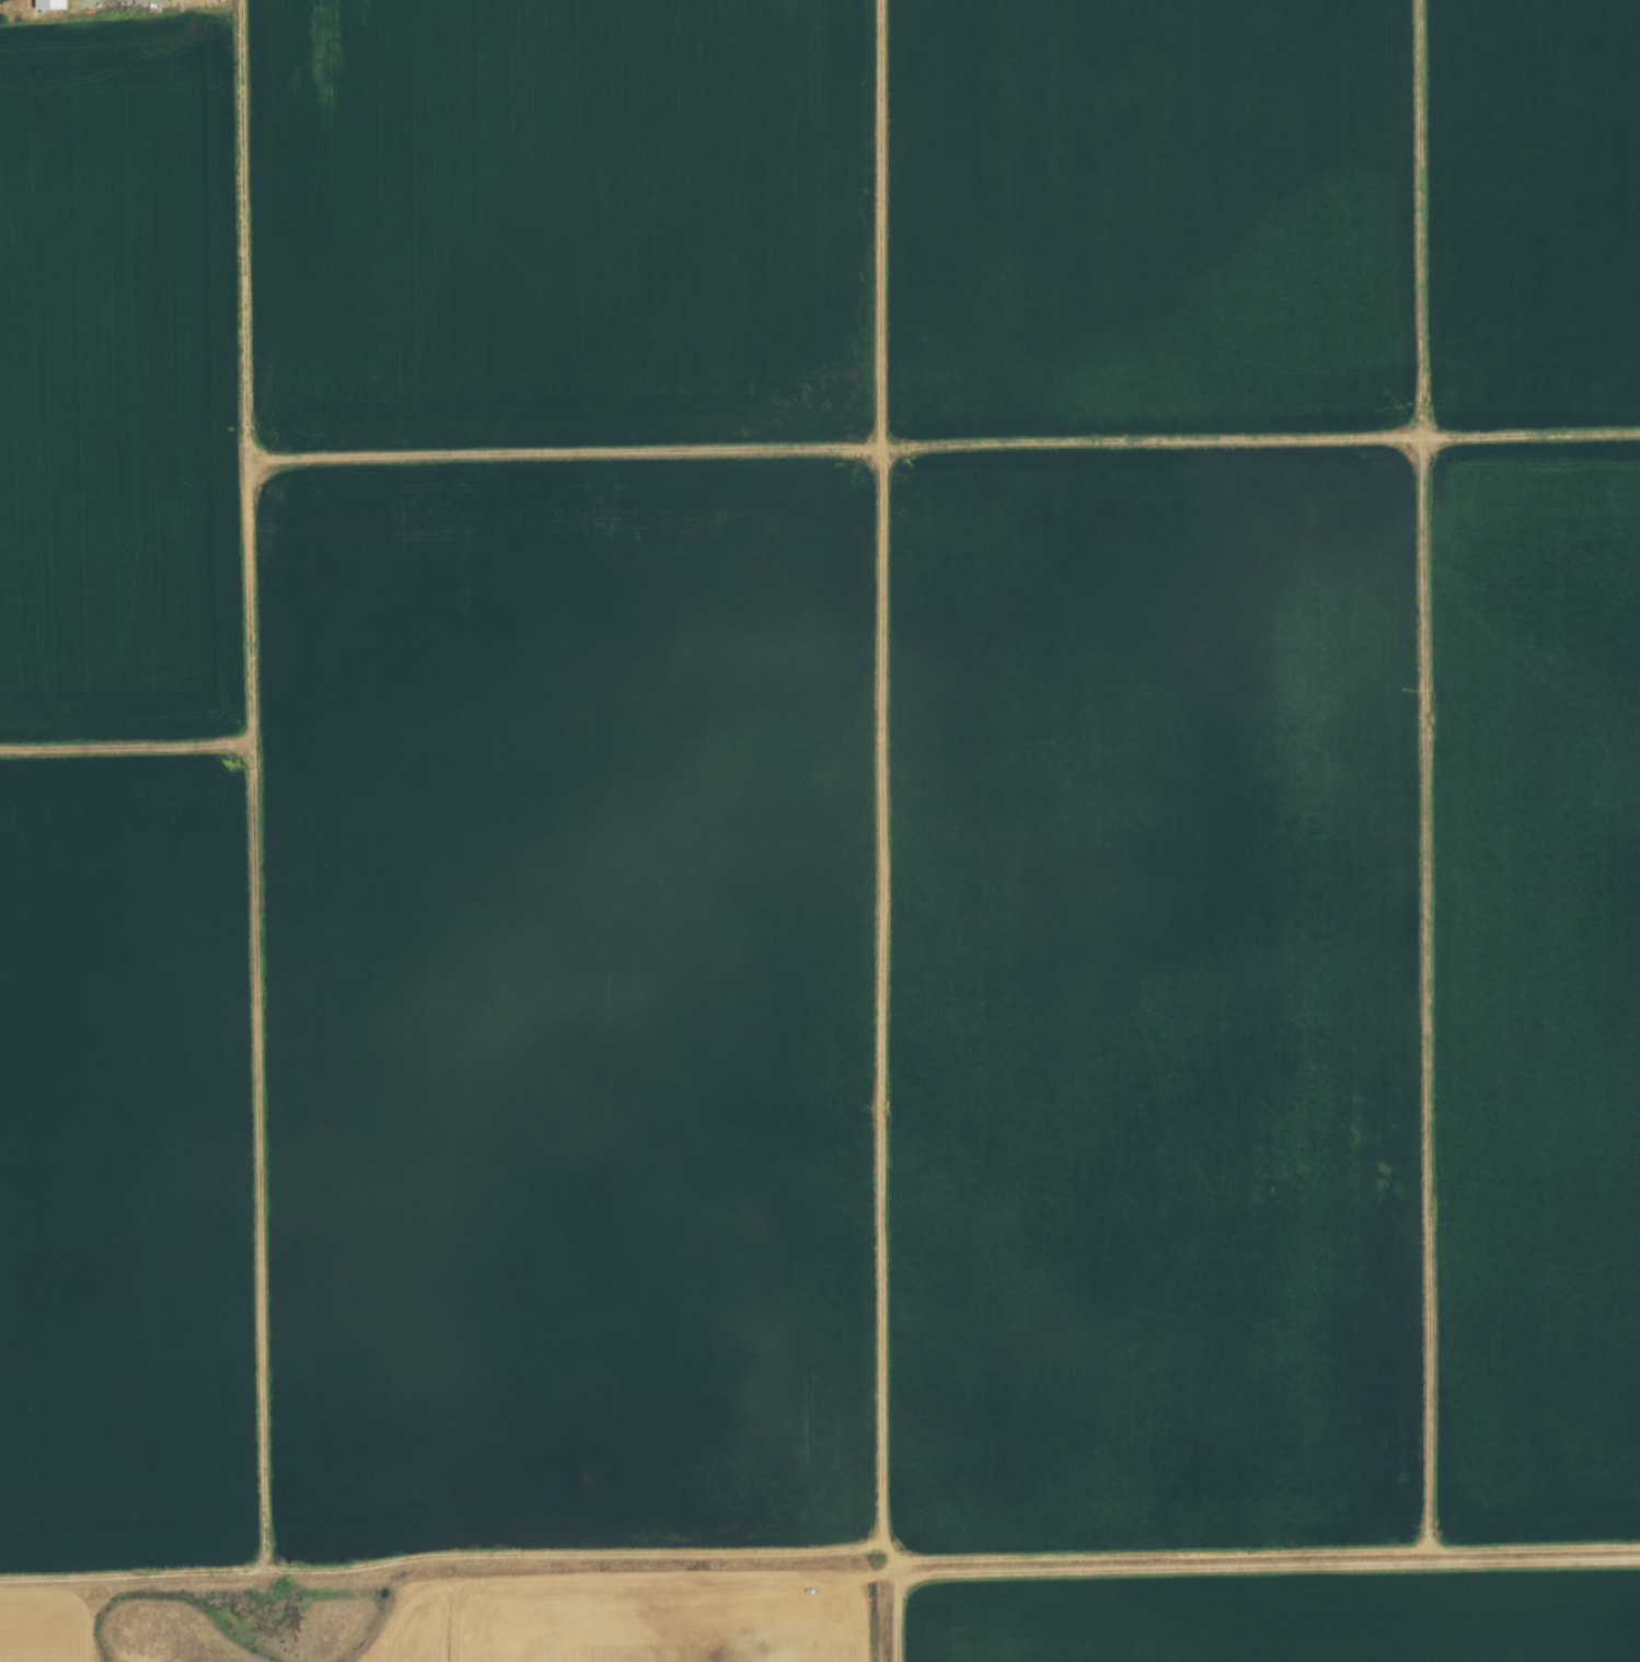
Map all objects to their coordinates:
building: (49, 3)

